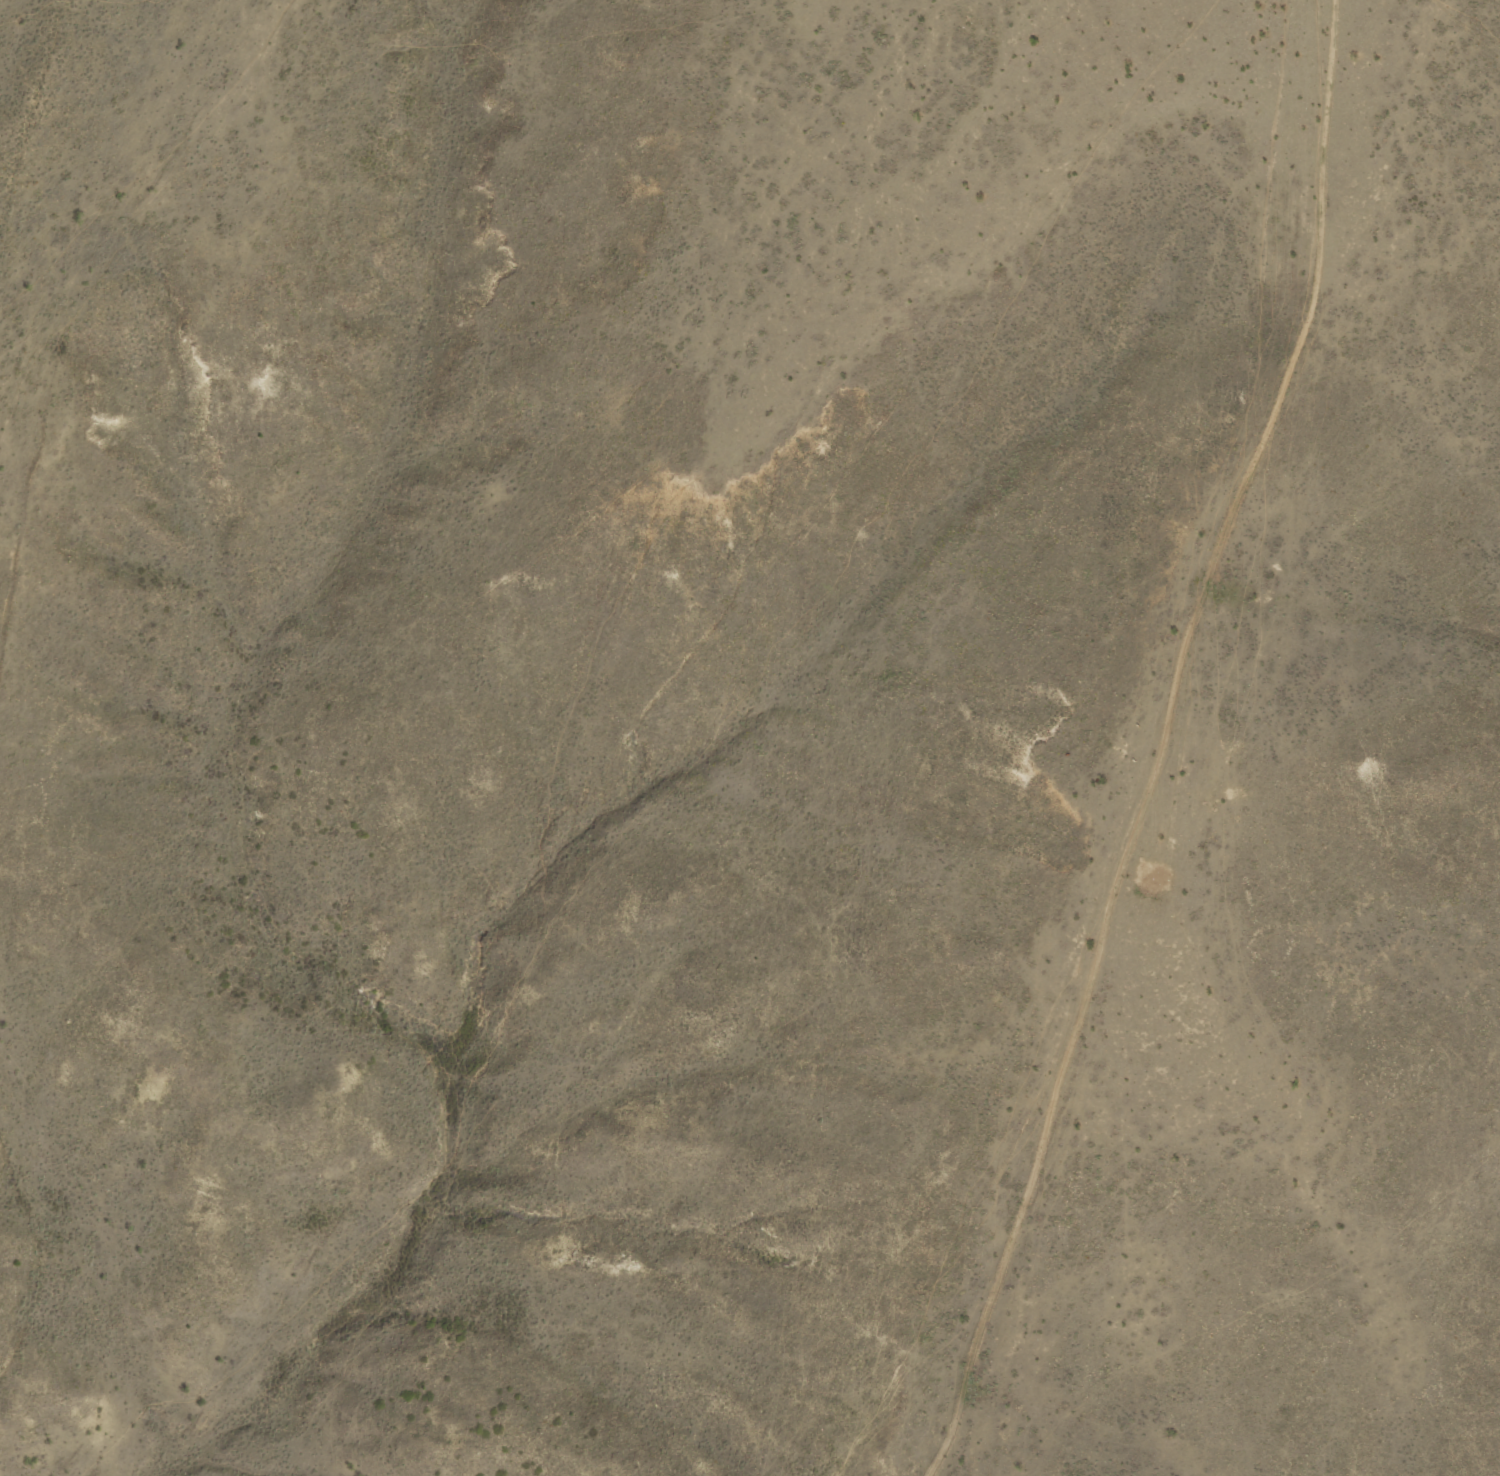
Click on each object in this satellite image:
road: (78, 132)
road: (5, 1125)

